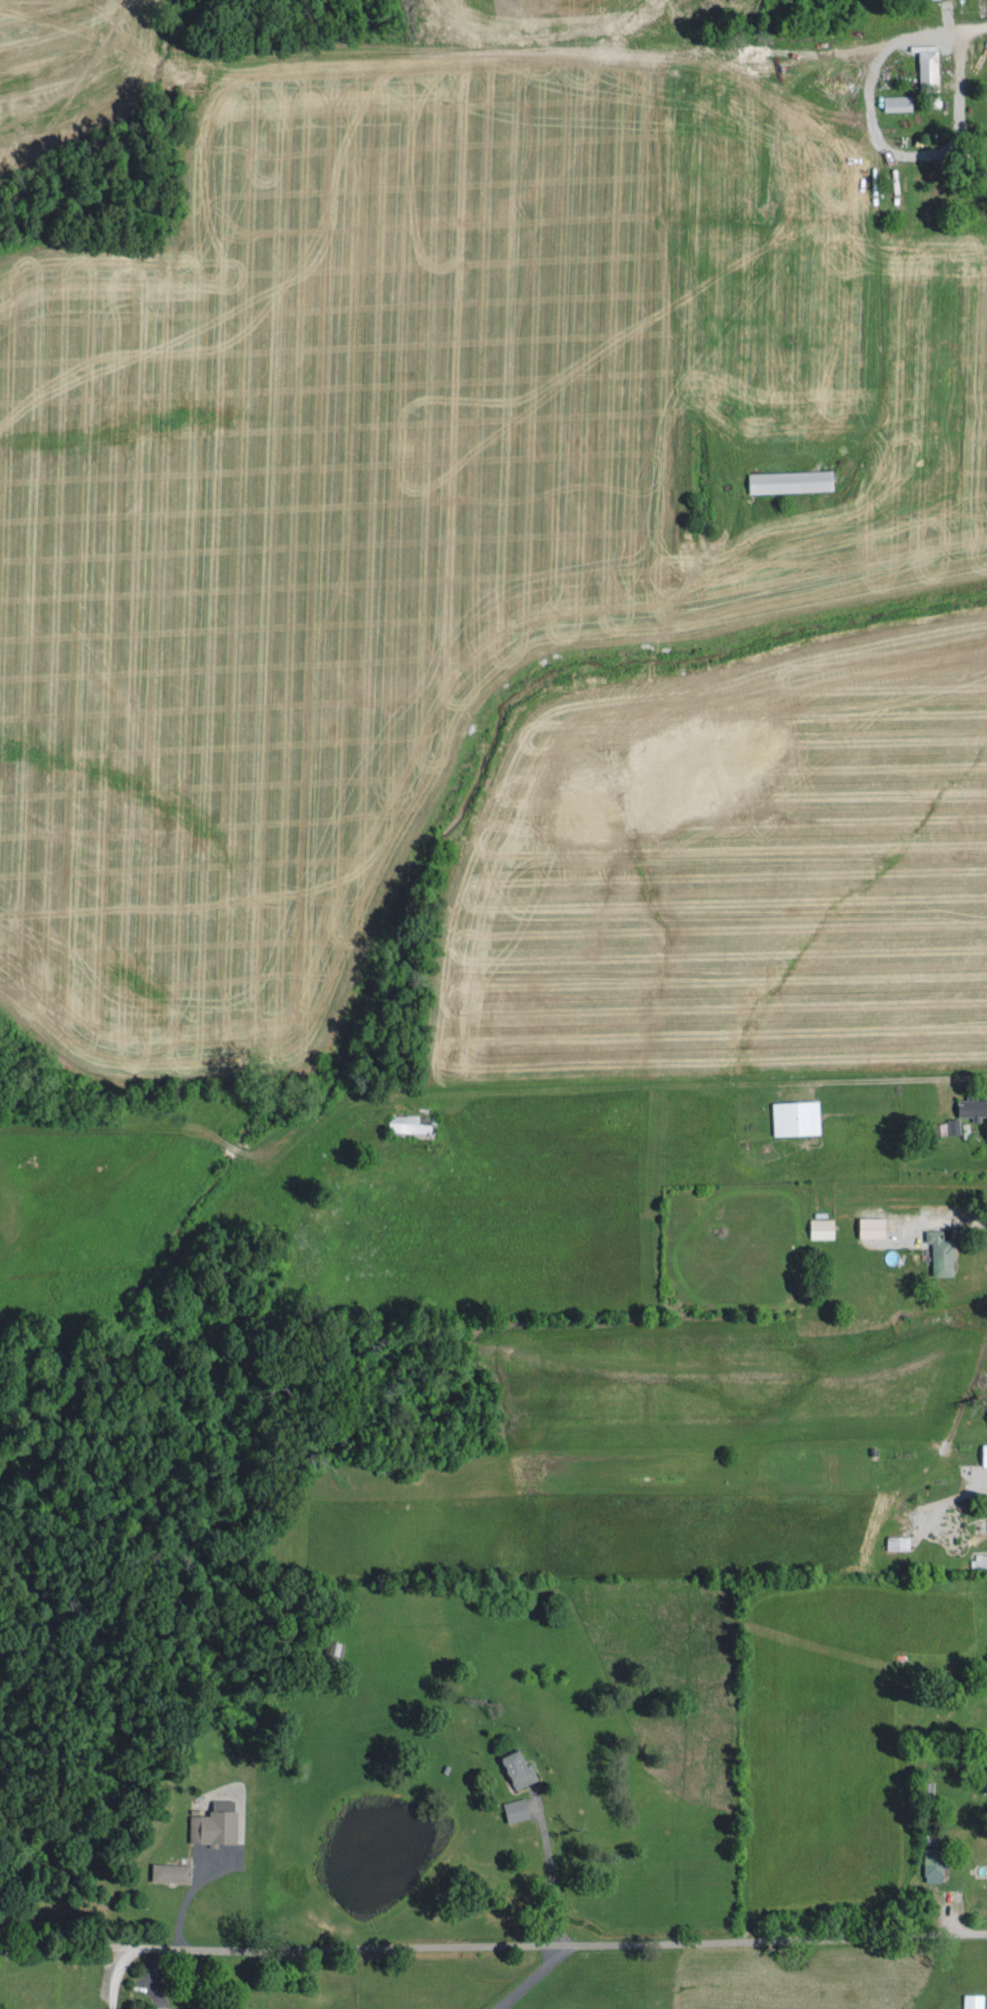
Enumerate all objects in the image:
building: (928, 65)
building: (898, 101)
building: (791, 479)
road: (686, 1083)
building: (972, 1105)
building: (796, 1115)
building: (407, 1122)
building: (873, 1225)
building: (822, 1226)
building: (942, 1251)
building: (985, 1452)
building: (898, 1540)
building: (519, 1766)
building: (517, 1807)
building: (936, 1860)
building: (171, 1870)
road: (551, 1871)
road: (493, 1943)
road: (115, 1975)
road: (530, 1979)
building: (973, 2000)

